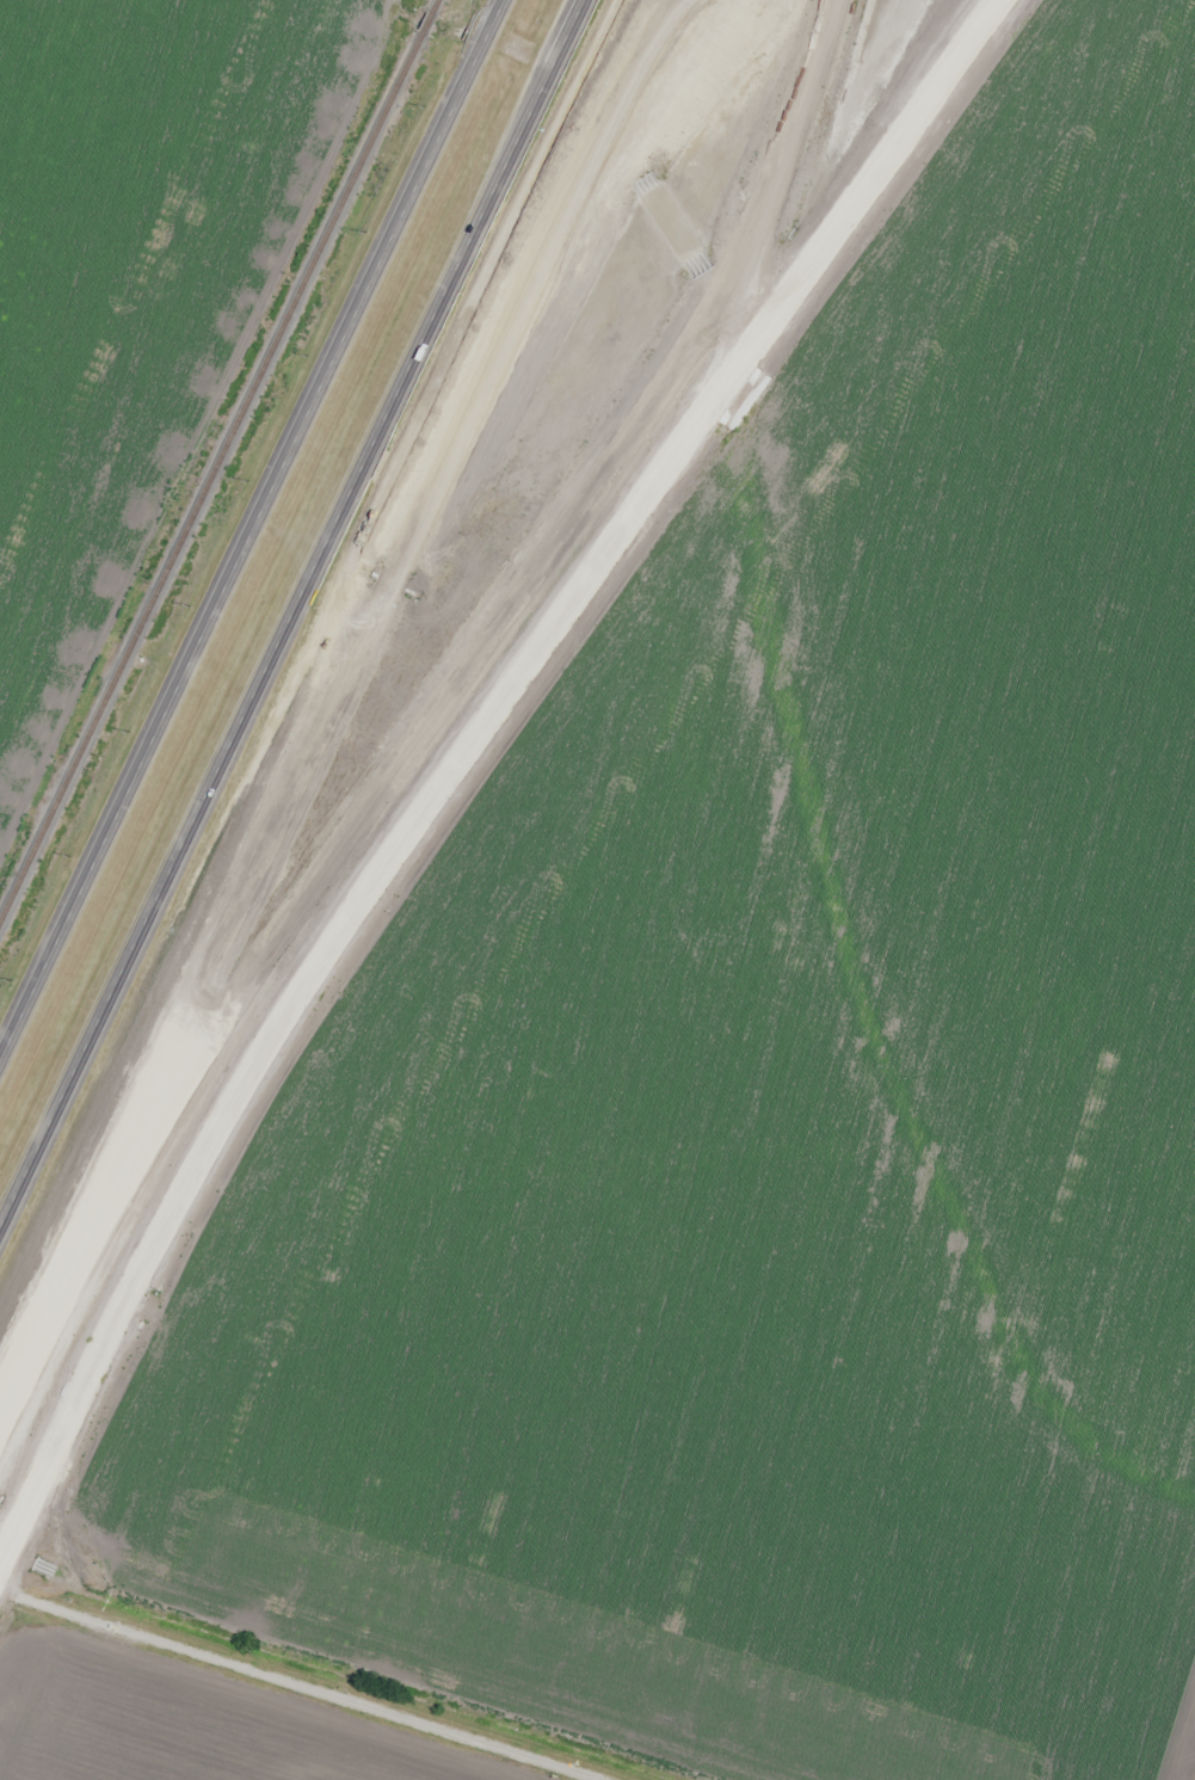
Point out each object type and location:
road: (579, 8)
road: (561, 43)
railway: (216, 454)
road: (257, 534)
road: (270, 657)
road: (333, 695)
road: (432, 712)
road: (460, 752)
road: (275, 1686)

